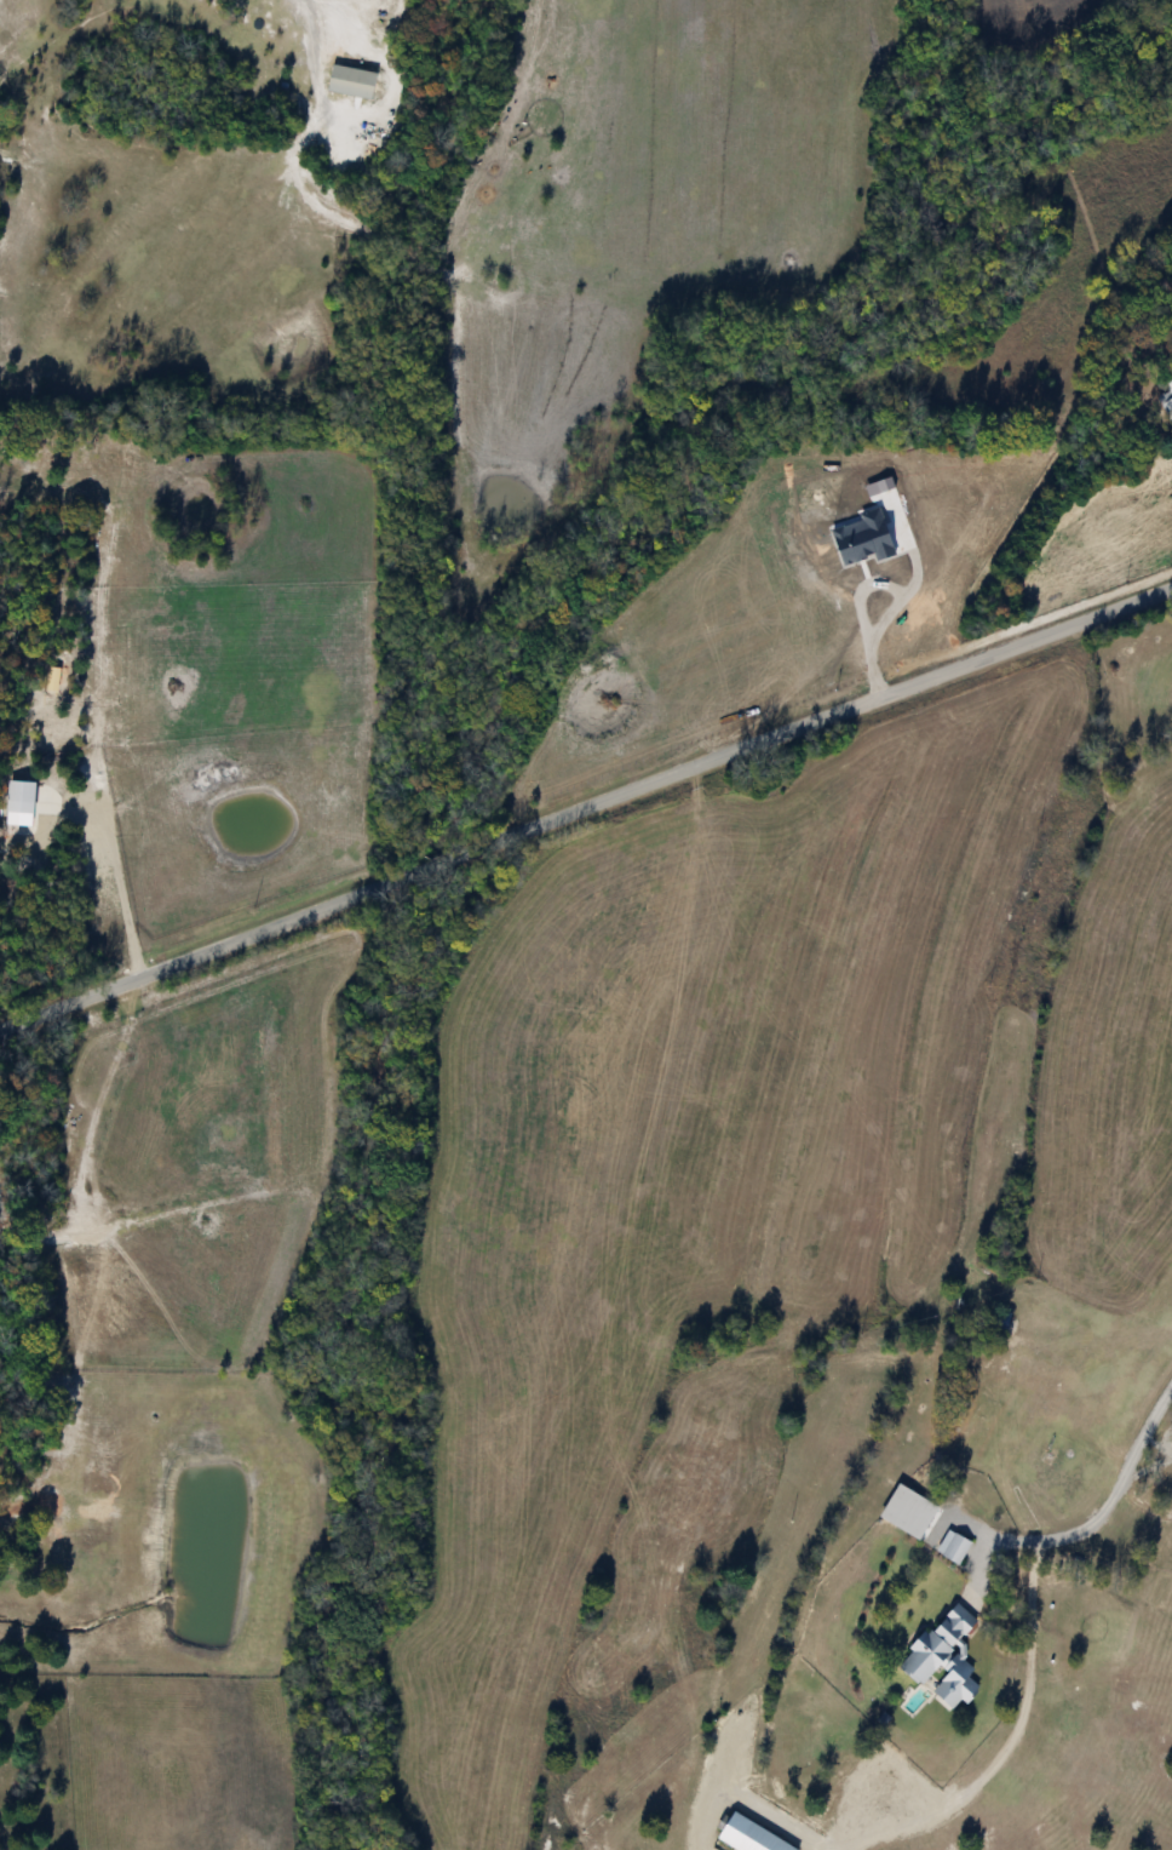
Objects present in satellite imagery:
building: (349, 82)
building: (1166, 400)
road: (585, 804)
road: (119, 867)
building: (1022, 1281)
building: (1090, 1307)
building: (999, 1317)
road: (1144, 1467)
building: (906, 1511)
road: (1091, 1517)
building: (952, 1547)
road: (970, 1565)
building: (940, 1659)
road: (1007, 1746)
road: (739, 1789)
road: (829, 1849)

